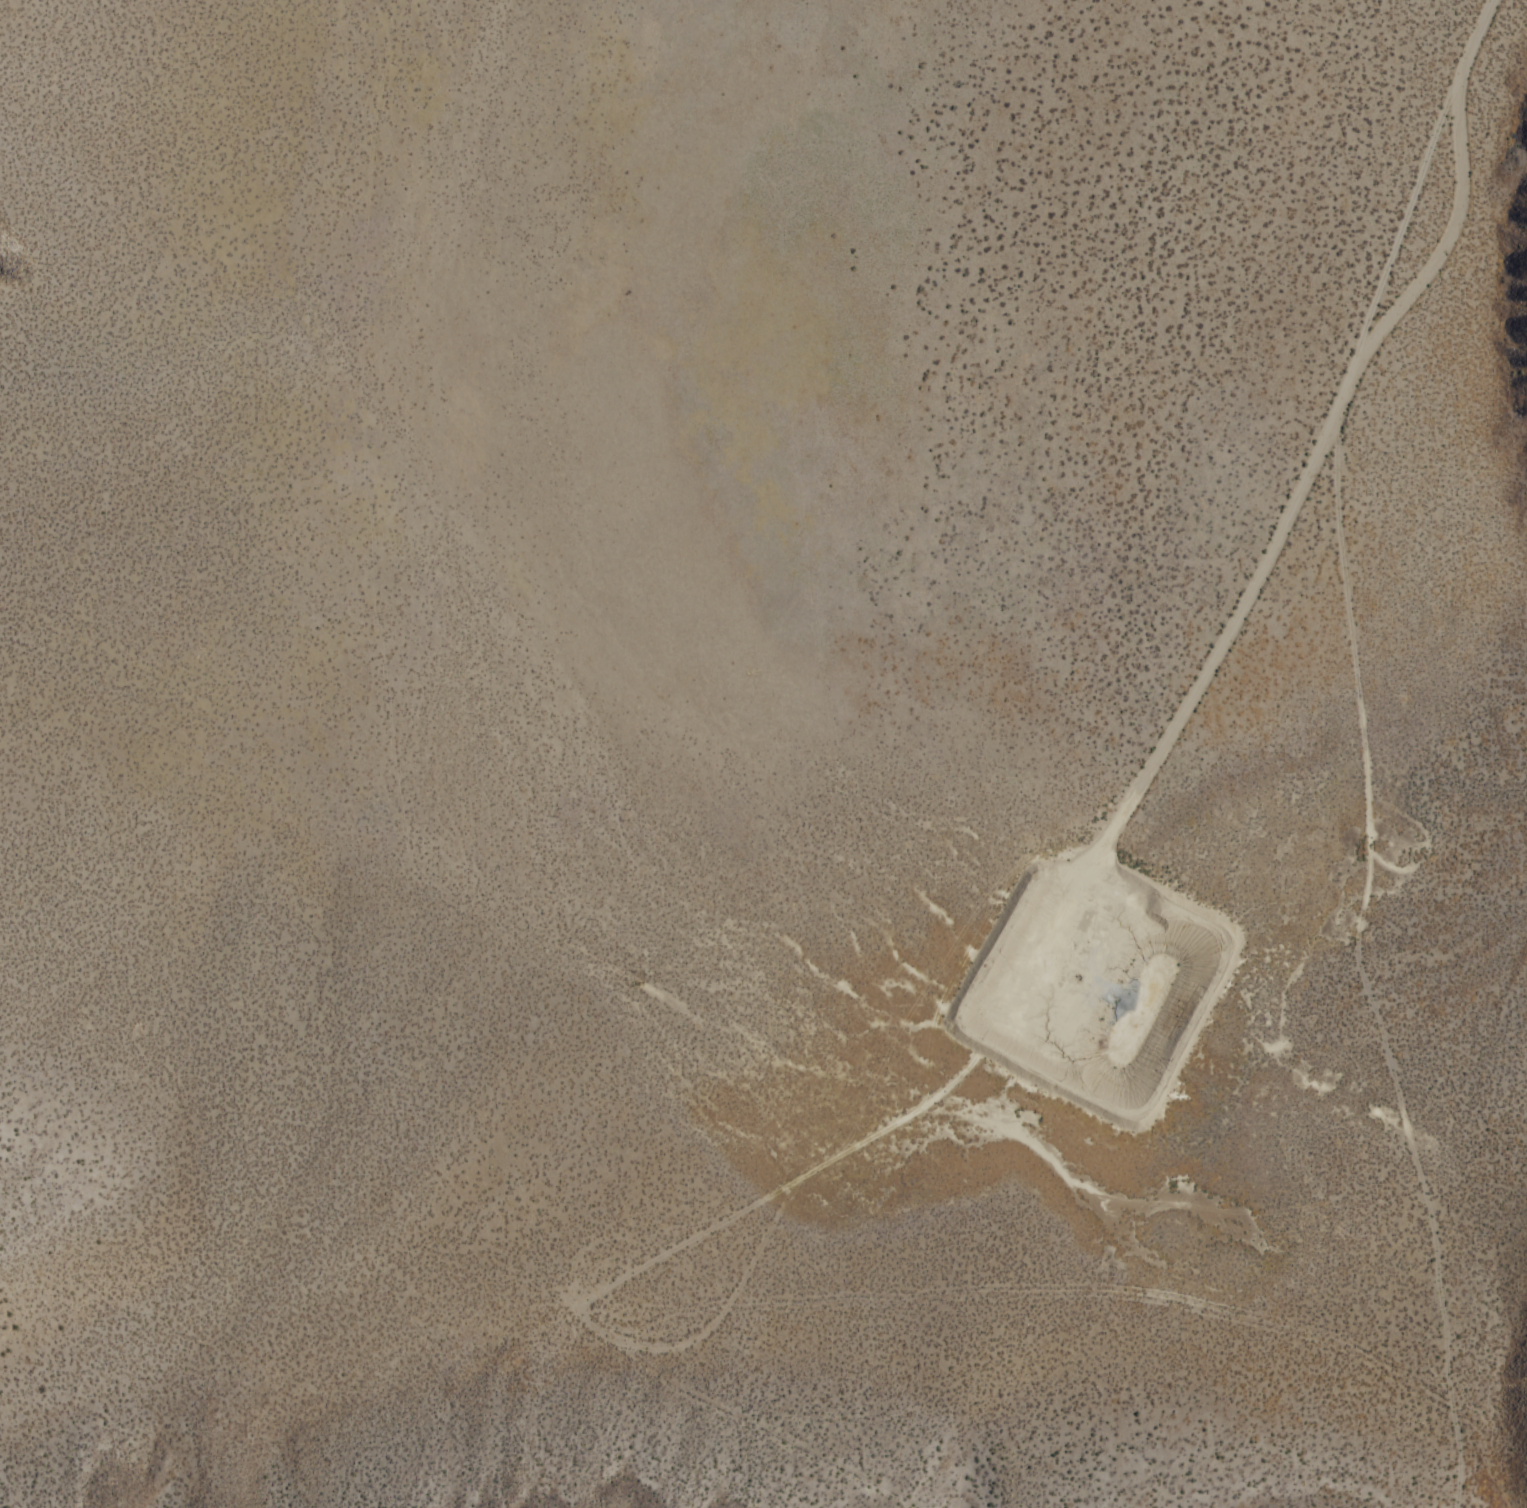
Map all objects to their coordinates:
road: (1324, 442)

